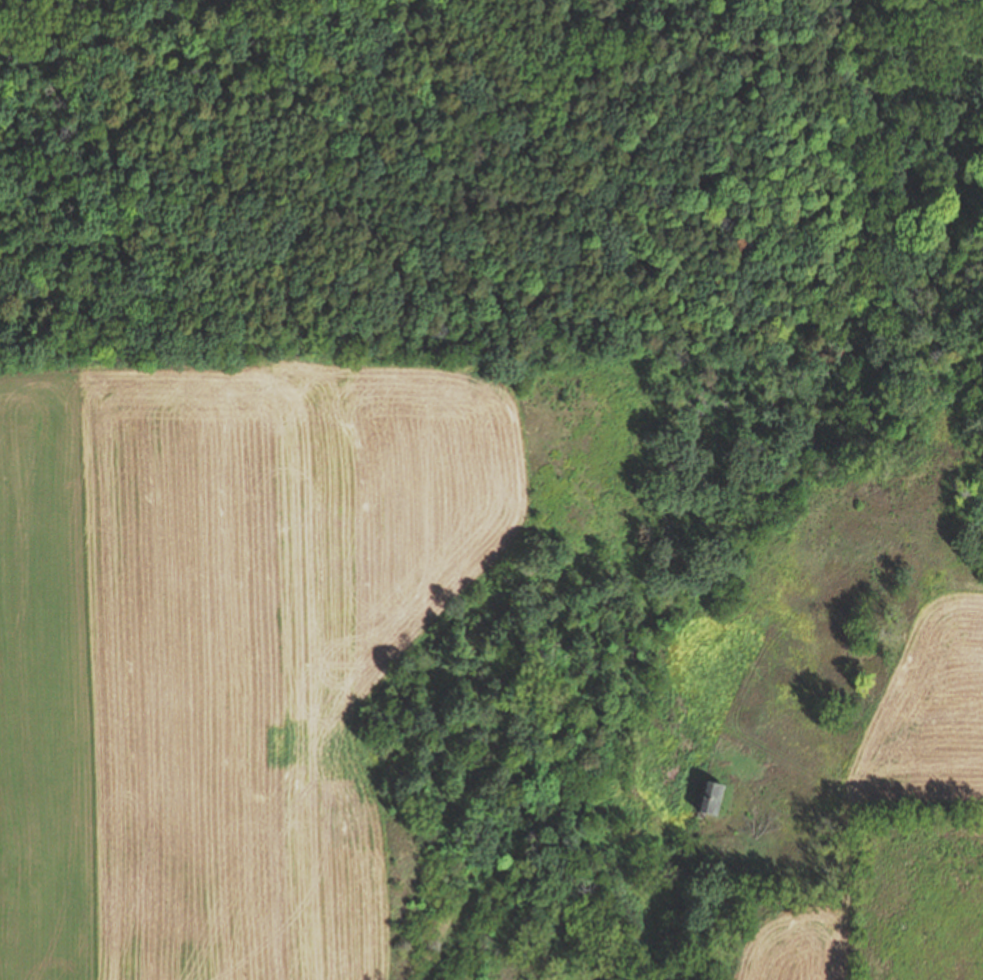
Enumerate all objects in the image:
building: (711, 799)

